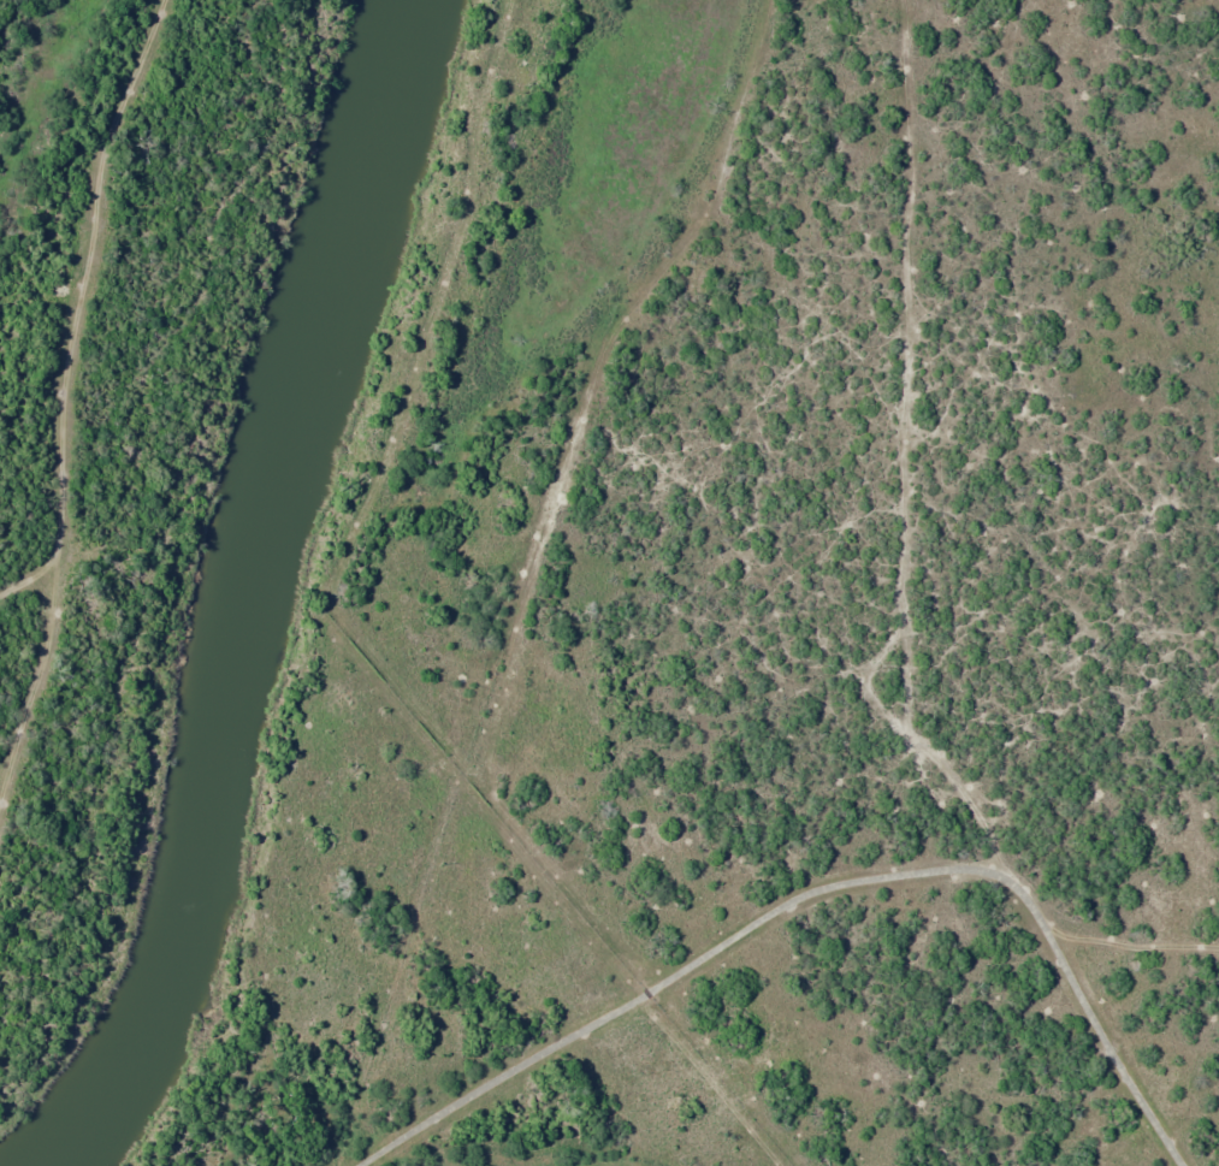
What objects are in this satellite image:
river: (252, 596)
road: (516, 829)
road: (578, 1102)

